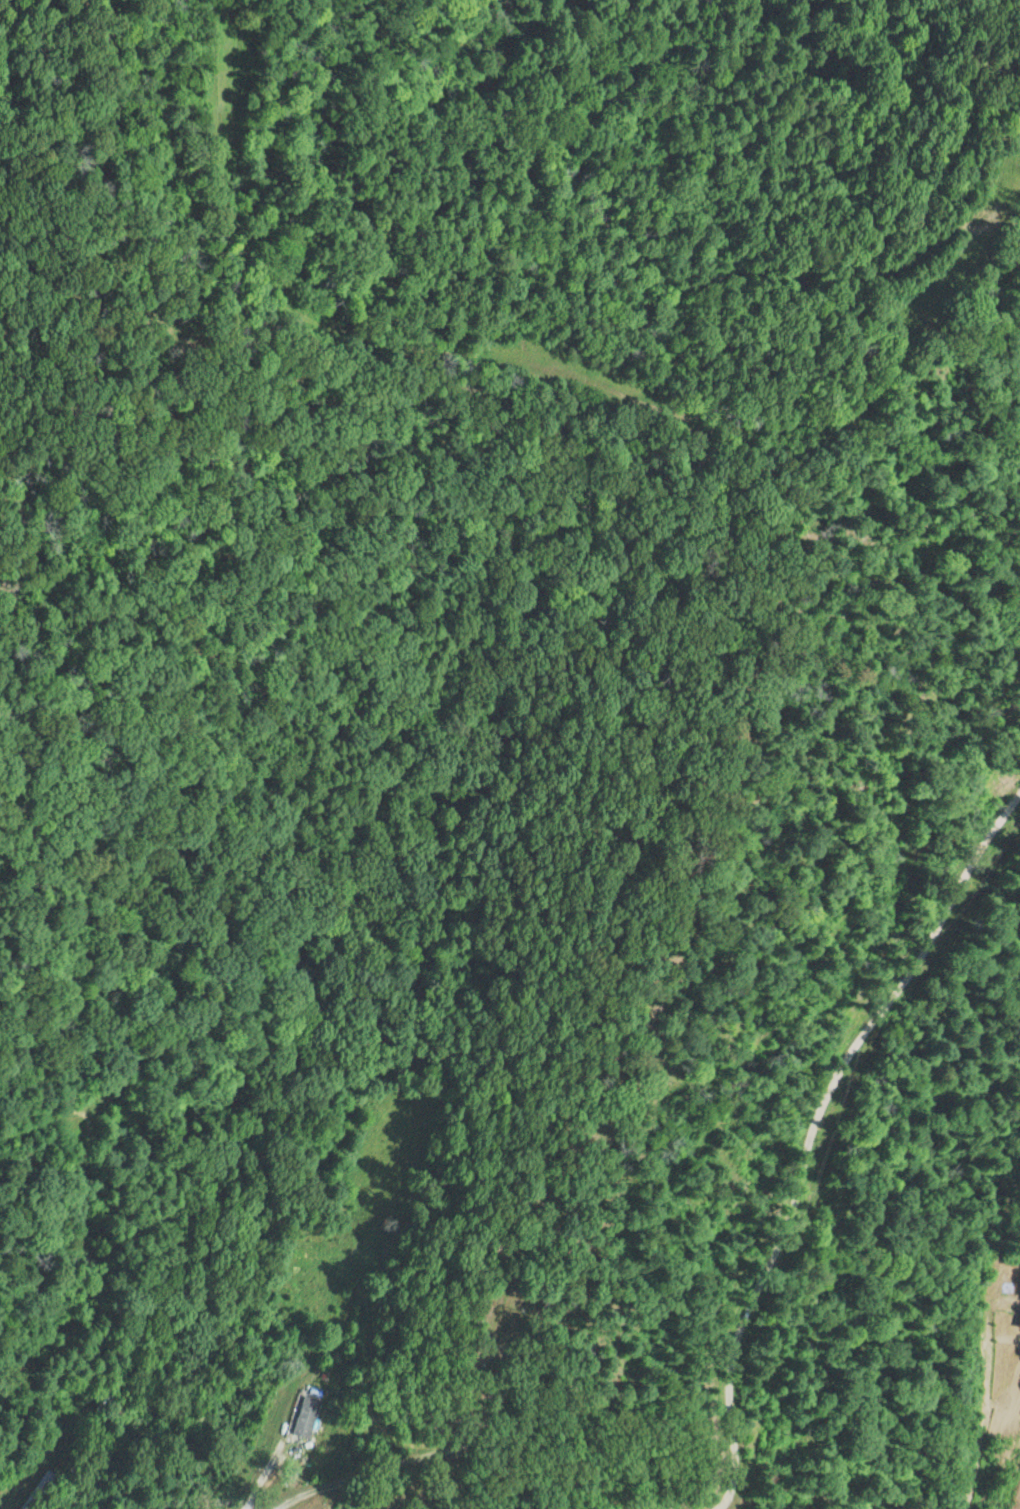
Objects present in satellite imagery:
building: (1019, 1321)
building: (304, 1417)
building: (38, 1491)

